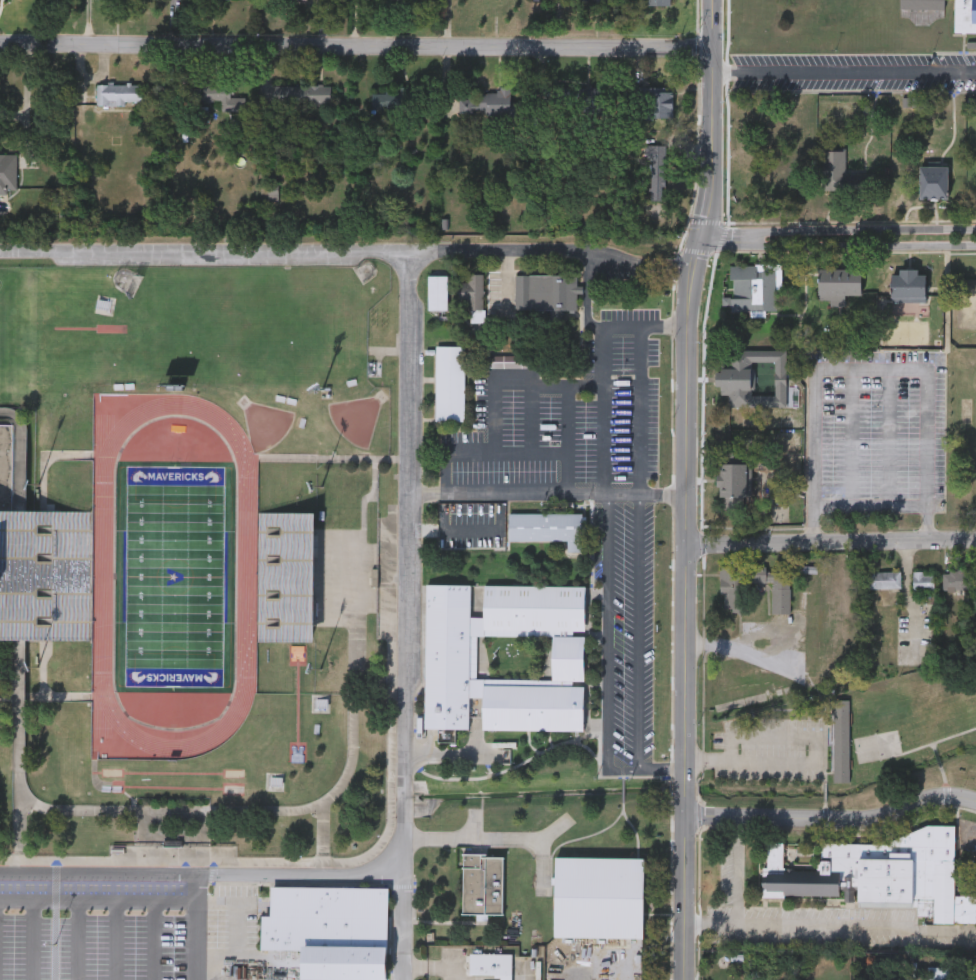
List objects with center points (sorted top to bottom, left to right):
building: (106, 0)
building: (293, 1)
building: (660, 2)
building: (922, 4)
building: (965, 16)
road: (356, 47)
road: (844, 71)
building: (210, 93)
building: (119, 94)
building: (303, 94)
building: (392, 101)
building: (655, 101)
road: (29, 104)
building: (491, 104)
road: (14, 114)
building: (7, 170)
building: (657, 170)
building: (844, 177)
building: (934, 184)
road: (841, 228)
traffic signals: (707, 237)
road: (840, 244)
road: (702, 249)
road: (348, 254)
building: (841, 281)
road: (507, 282)
building: (909, 284)
building: (753, 286)
building: (437, 291)
building: (473, 291)
building: (544, 293)
road: (946, 297)
road: (645, 325)
road: (603, 369)
building: (752, 377)
road: (515, 380)
building: (449, 382)
road: (808, 399)
road: (639, 411)
road: (565, 418)
road: (886, 439)
road: (501, 449)
road: (928, 456)
road: (848, 458)
building: (734, 485)
road: (545, 497)
road: (867, 504)
road: (907, 504)
building: (547, 527)
road: (489, 532)
road: (828, 544)
building: (28, 546)
stadium: (163, 576)
park: (176, 578)
building: (882, 579)
building: (955, 579)
building: (922, 580)
building: (733, 597)
road: (908, 599)
building: (825, 631)
road: (737, 648)
road: (607, 651)
road: (639, 654)
building: (450, 656)
park: (912, 733)
road: (680, 738)
building: (839, 740)
road: (452, 756)
road: (405, 761)
road: (816, 764)
road: (829, 818)
road: (471, 834)
building: (880, 873)
building: (483, 884)
building: (598, 896)
road: (100, 899)
road: (404, 922)
road: (788, 925)
road: (200, 927)
building: (331, 930)
road: (957, 932)
road: (32, 939)
road: (73, 939)
road: (116, 939)
road: (154, 939)
building: (491, 964)
building: (940, 973)

